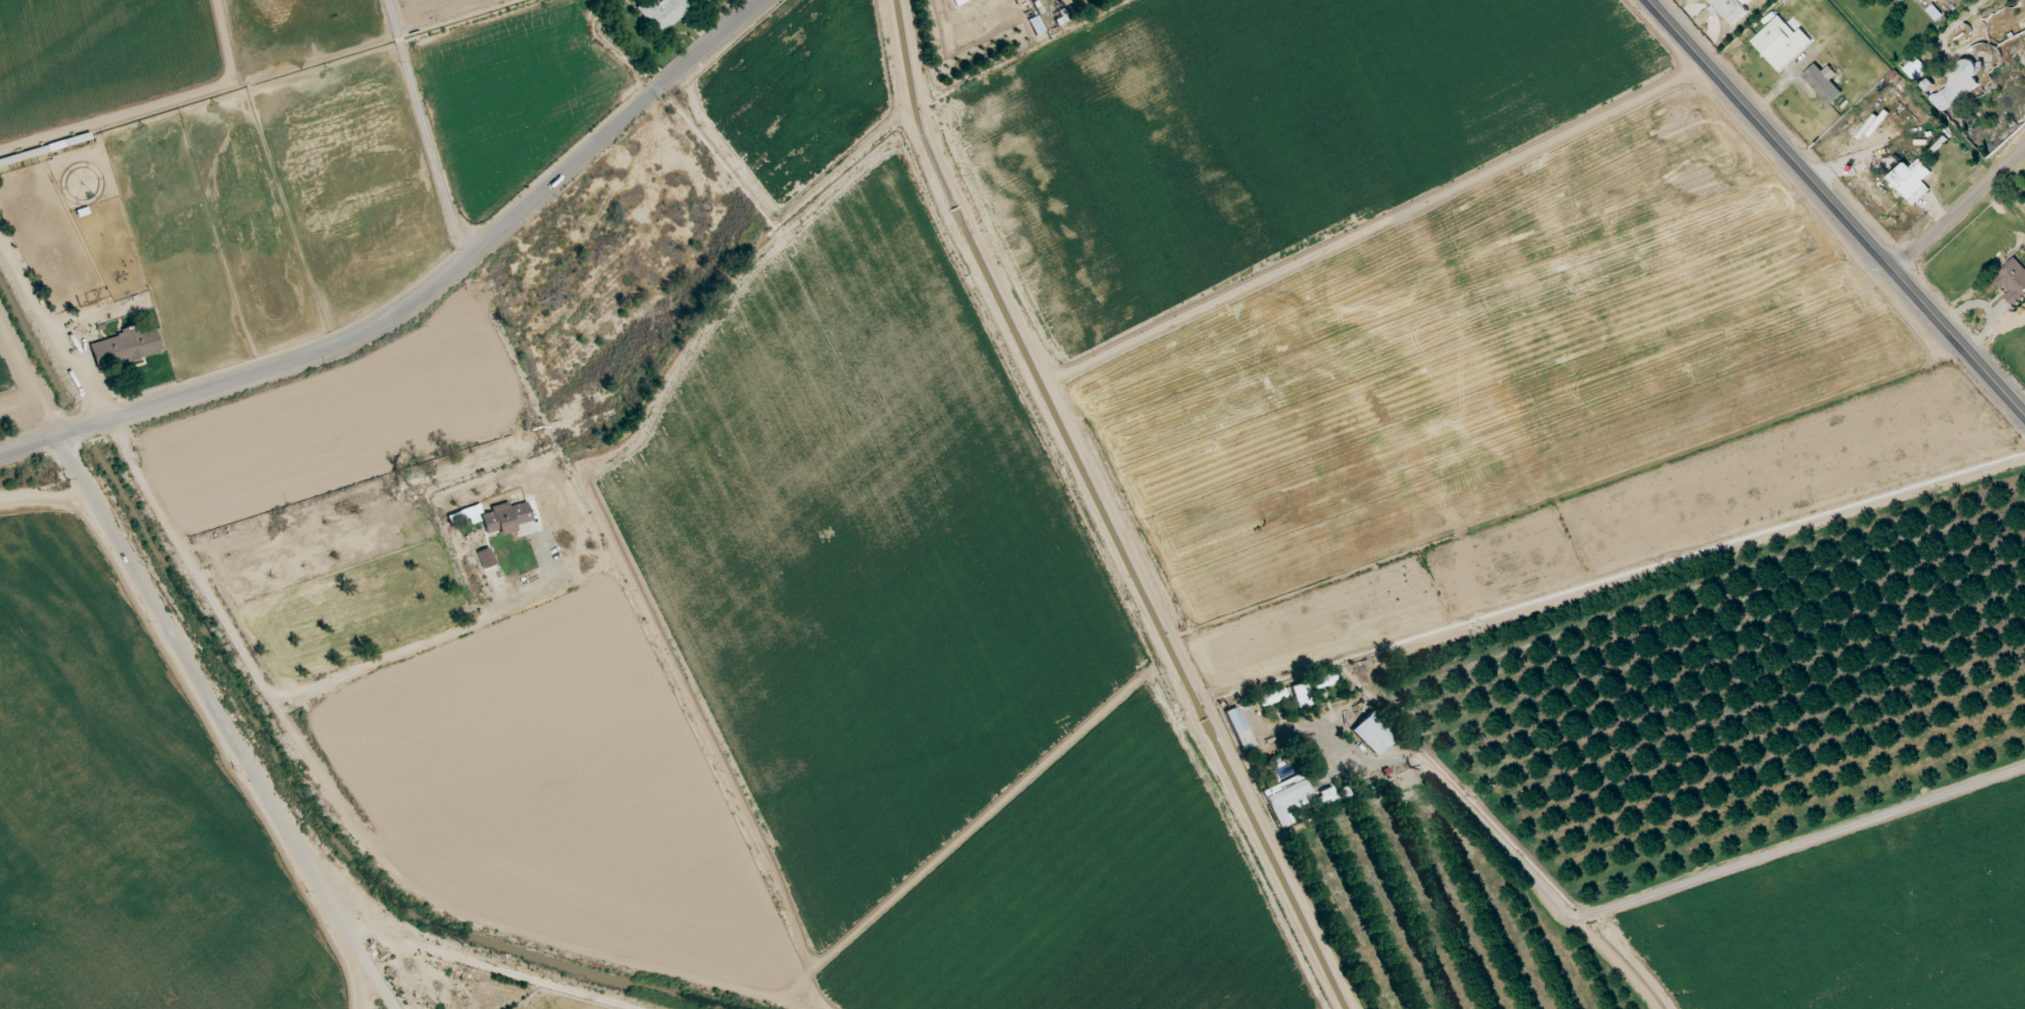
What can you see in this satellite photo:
building: (1968, 0)
building: (958, 2)
building: (661, 13)
building: (1933, 13)
building: (1706, 16)
building: (1035, 26)
building: (1780, 44)
building: (1915, 70)
building: (1822, 84)
building: (1955, 88)
road: (428, 128)
building: (1911, 182)
road: (1836, 207)
road: (1959, 210)
building: (2012, 281)
road: (420, 296)
building: (124, 347)
road: (21, 376)
building: (464, 515)
building: (504, 518)
building: (1323, 681)
building: (1300, 695)
road: (284, 696)
building: (1271, 698)
building: (1237, 729)
road: (200, 733)
building: (1372, 734)
building: (1324, 798)
building: (1285, 800)
road: (1831, 841)
road: (485, 970)
road: (354, 981)

